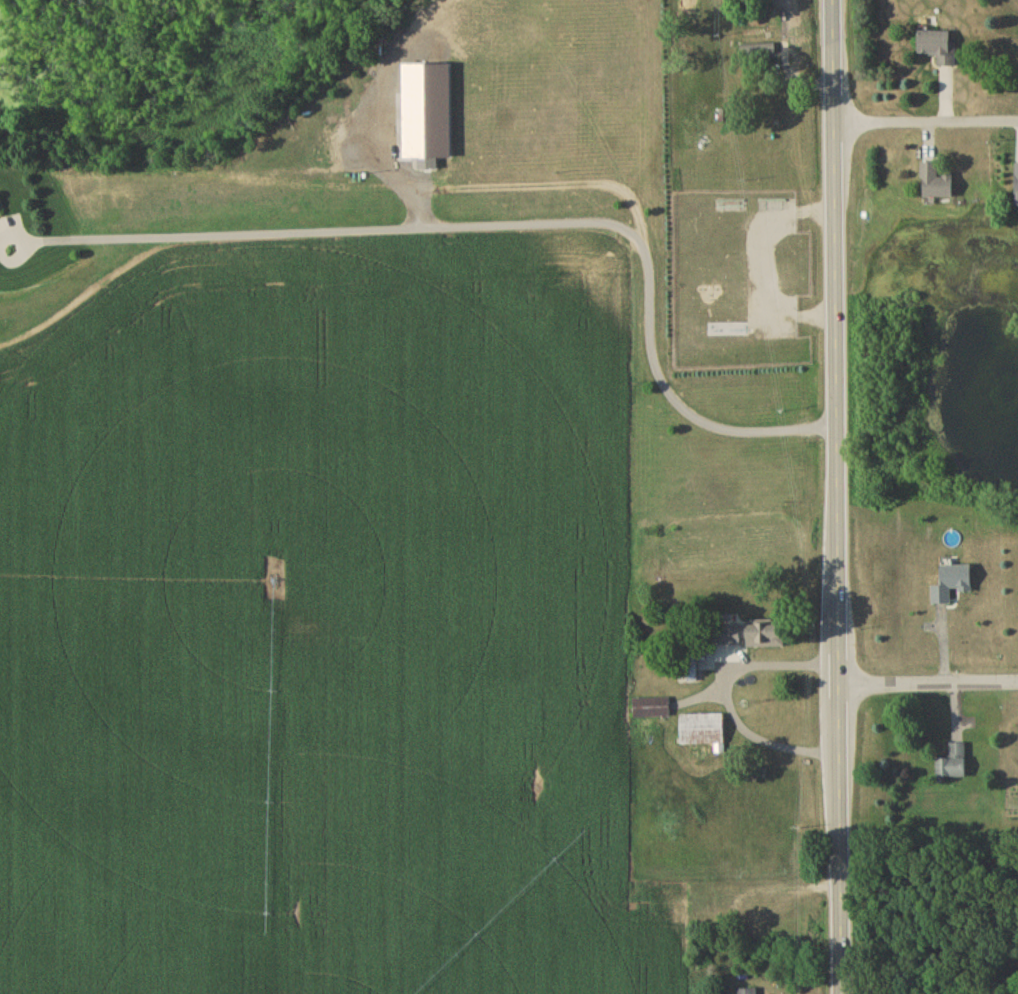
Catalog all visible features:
building: (939, 48)
building: (758, 54)
road: (926, 126)
building: (936, 184)
building: (1017, 187)
road: (509, 227)
road: (837, 497)
building: (952, 586)
building: (760, 636)
building: (689, 675)
road: (729, 688)
road: (929, 689)
building: (652, 711)
building: (702, 733)
building: (954, 766)
road: (999, 976)
building: (747, 992)

